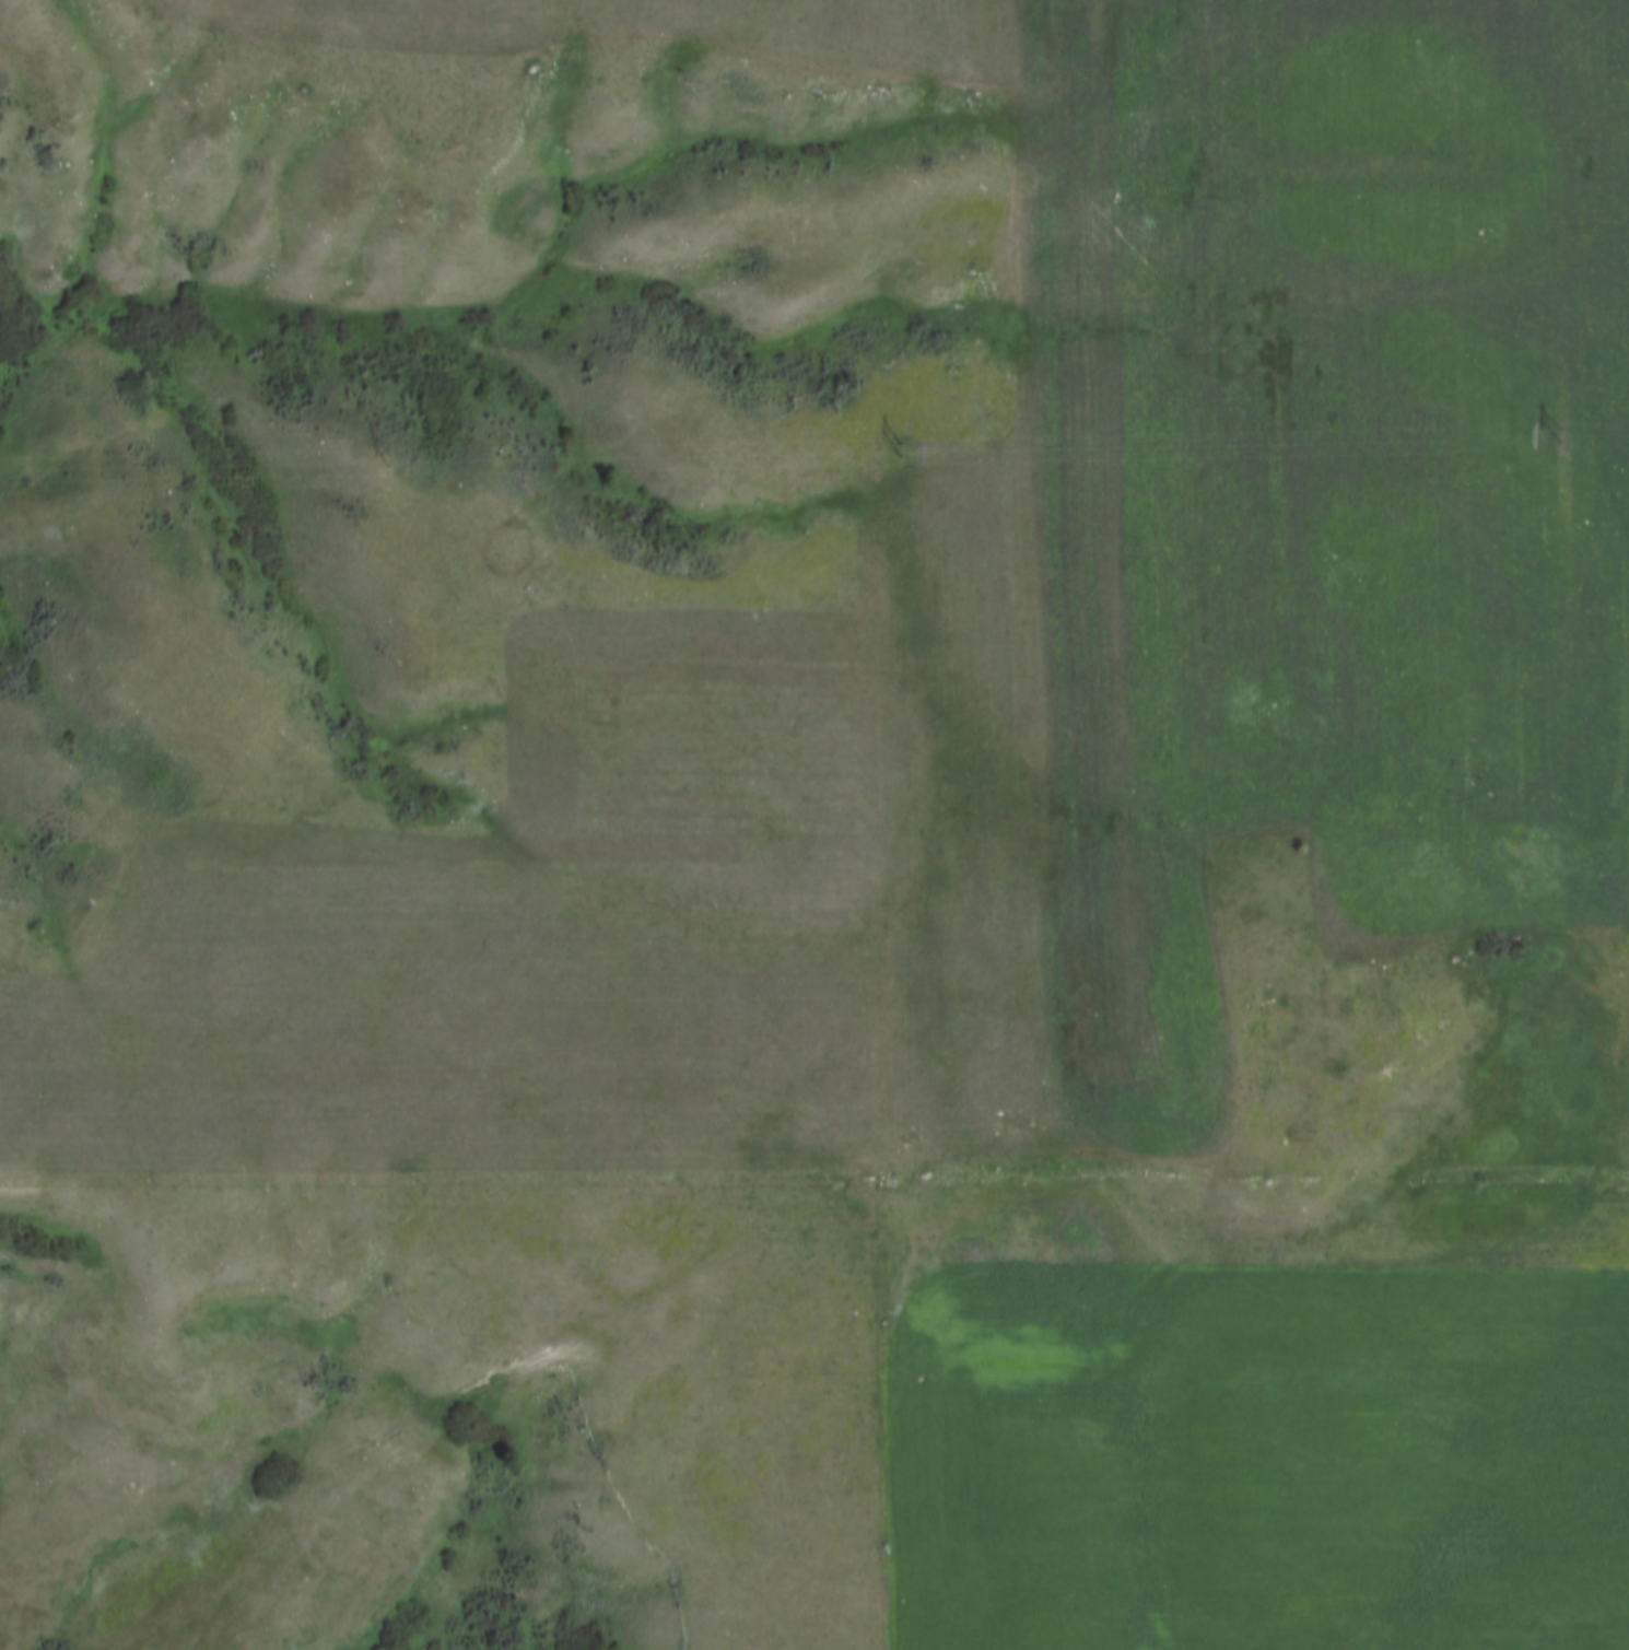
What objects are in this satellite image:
road: (1393, 1237)

